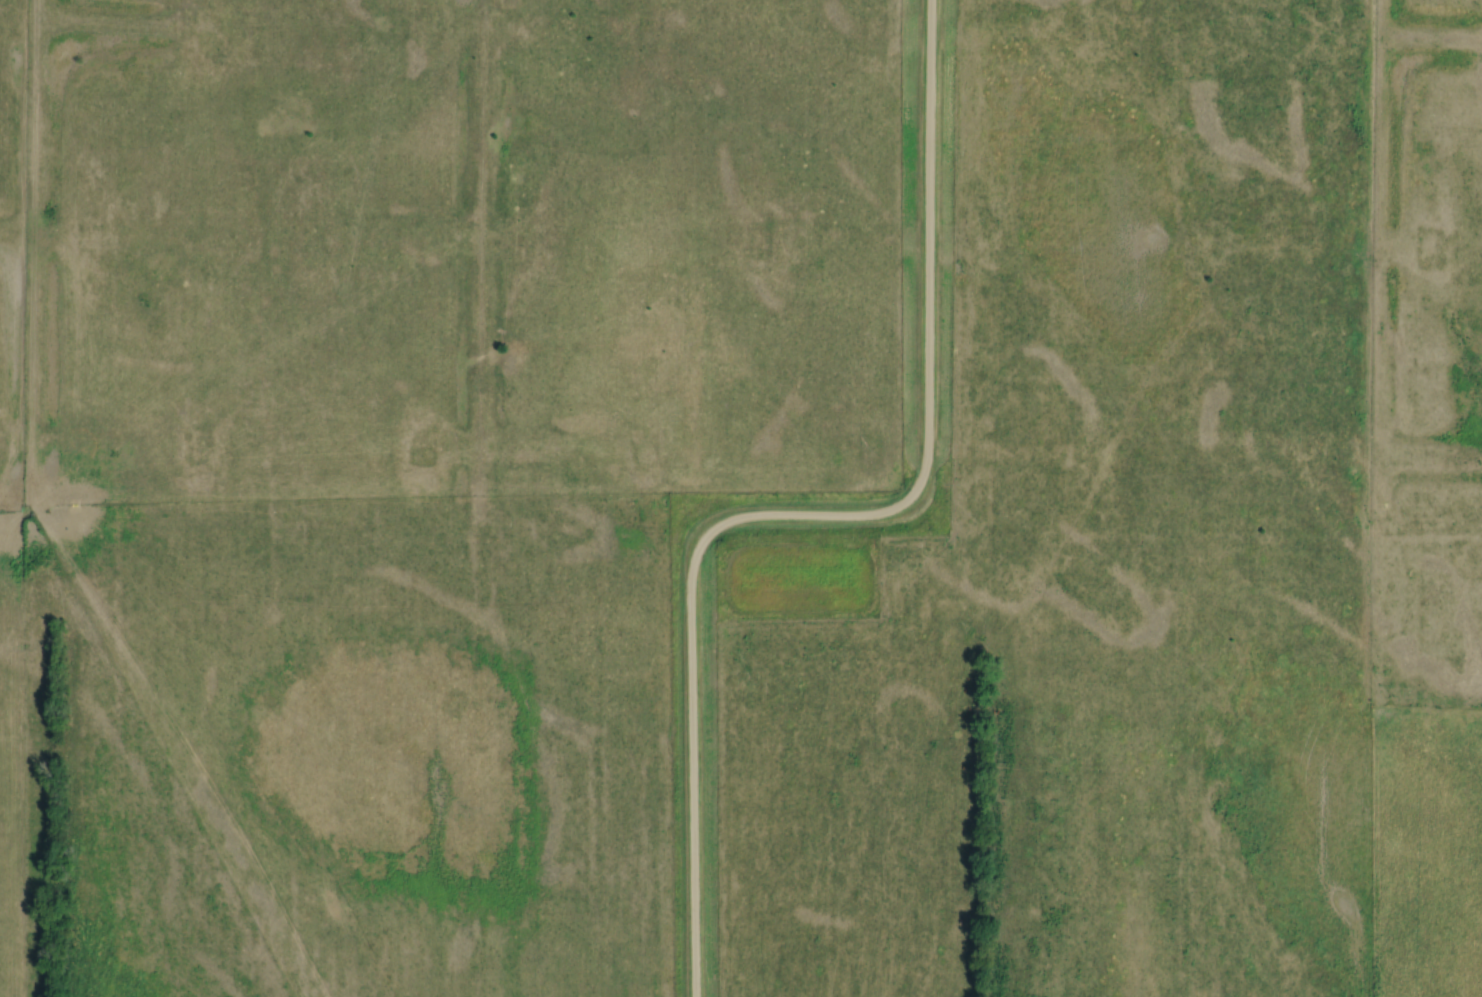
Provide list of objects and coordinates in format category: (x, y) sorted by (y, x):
road: (827, 518)

